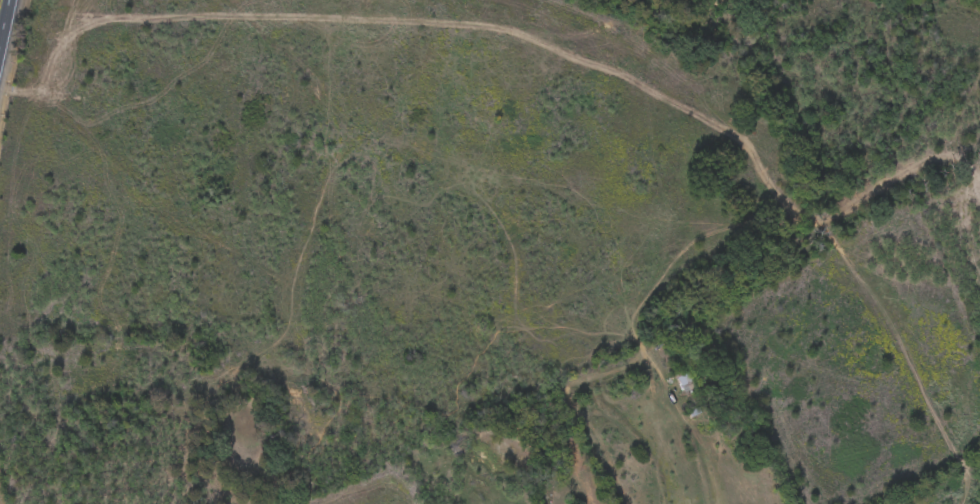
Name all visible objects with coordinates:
road: (318, 16)
road: (3, 21)
road: (542, 47)
road: (504, 73)
road: (293, 81)
road: (256, 125)
road: (17, 169)
road: (32, 194)
road: (346, 235)
road: (580, 236)
road: (426, 295)
road: (361, 343)
road: (153, 357)
road: (532, 367)
building: (685, 381)
road: (37, 402)
road: (43, 418)
road: (147, 431)

